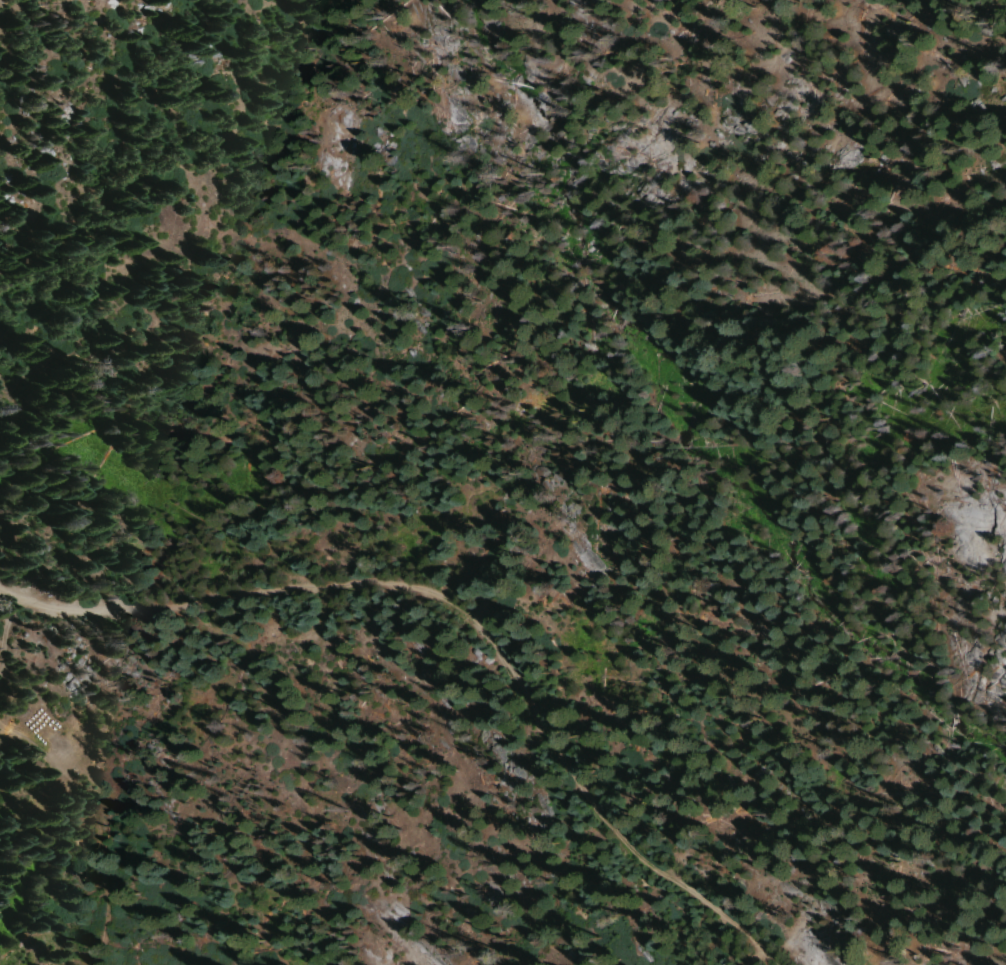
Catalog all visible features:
road: (433, 624)

